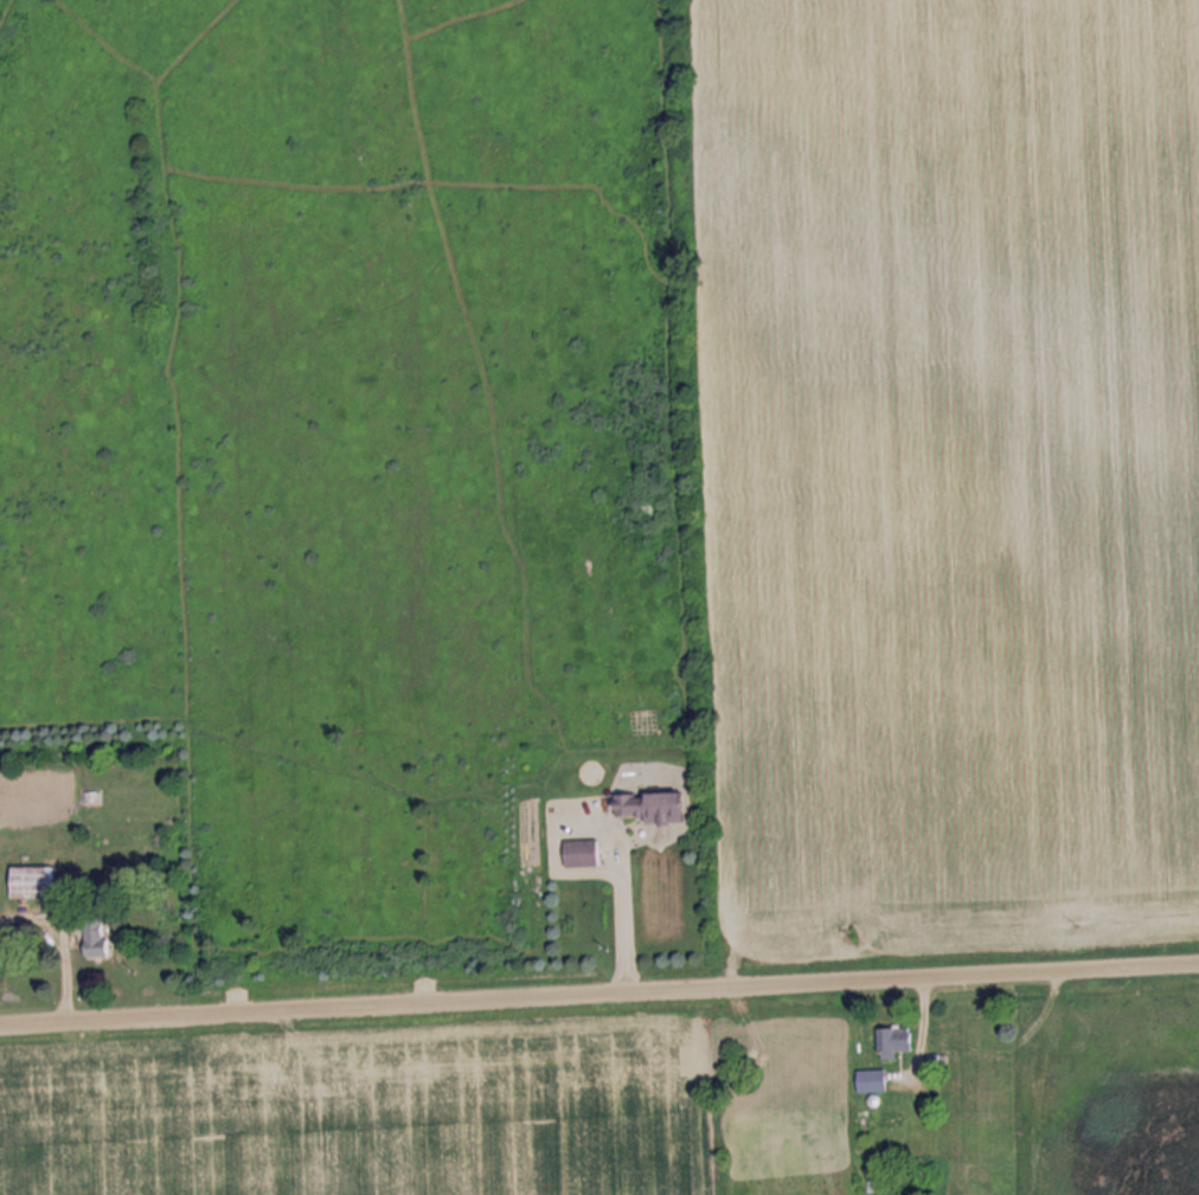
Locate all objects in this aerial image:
building: (654, 807)
building: (583, 854)
building: (39, 884)
building: (105, 938)
road: (599, 995)
building: (898, 1041)
building: (874, 1080)
building: (870, 1118)

